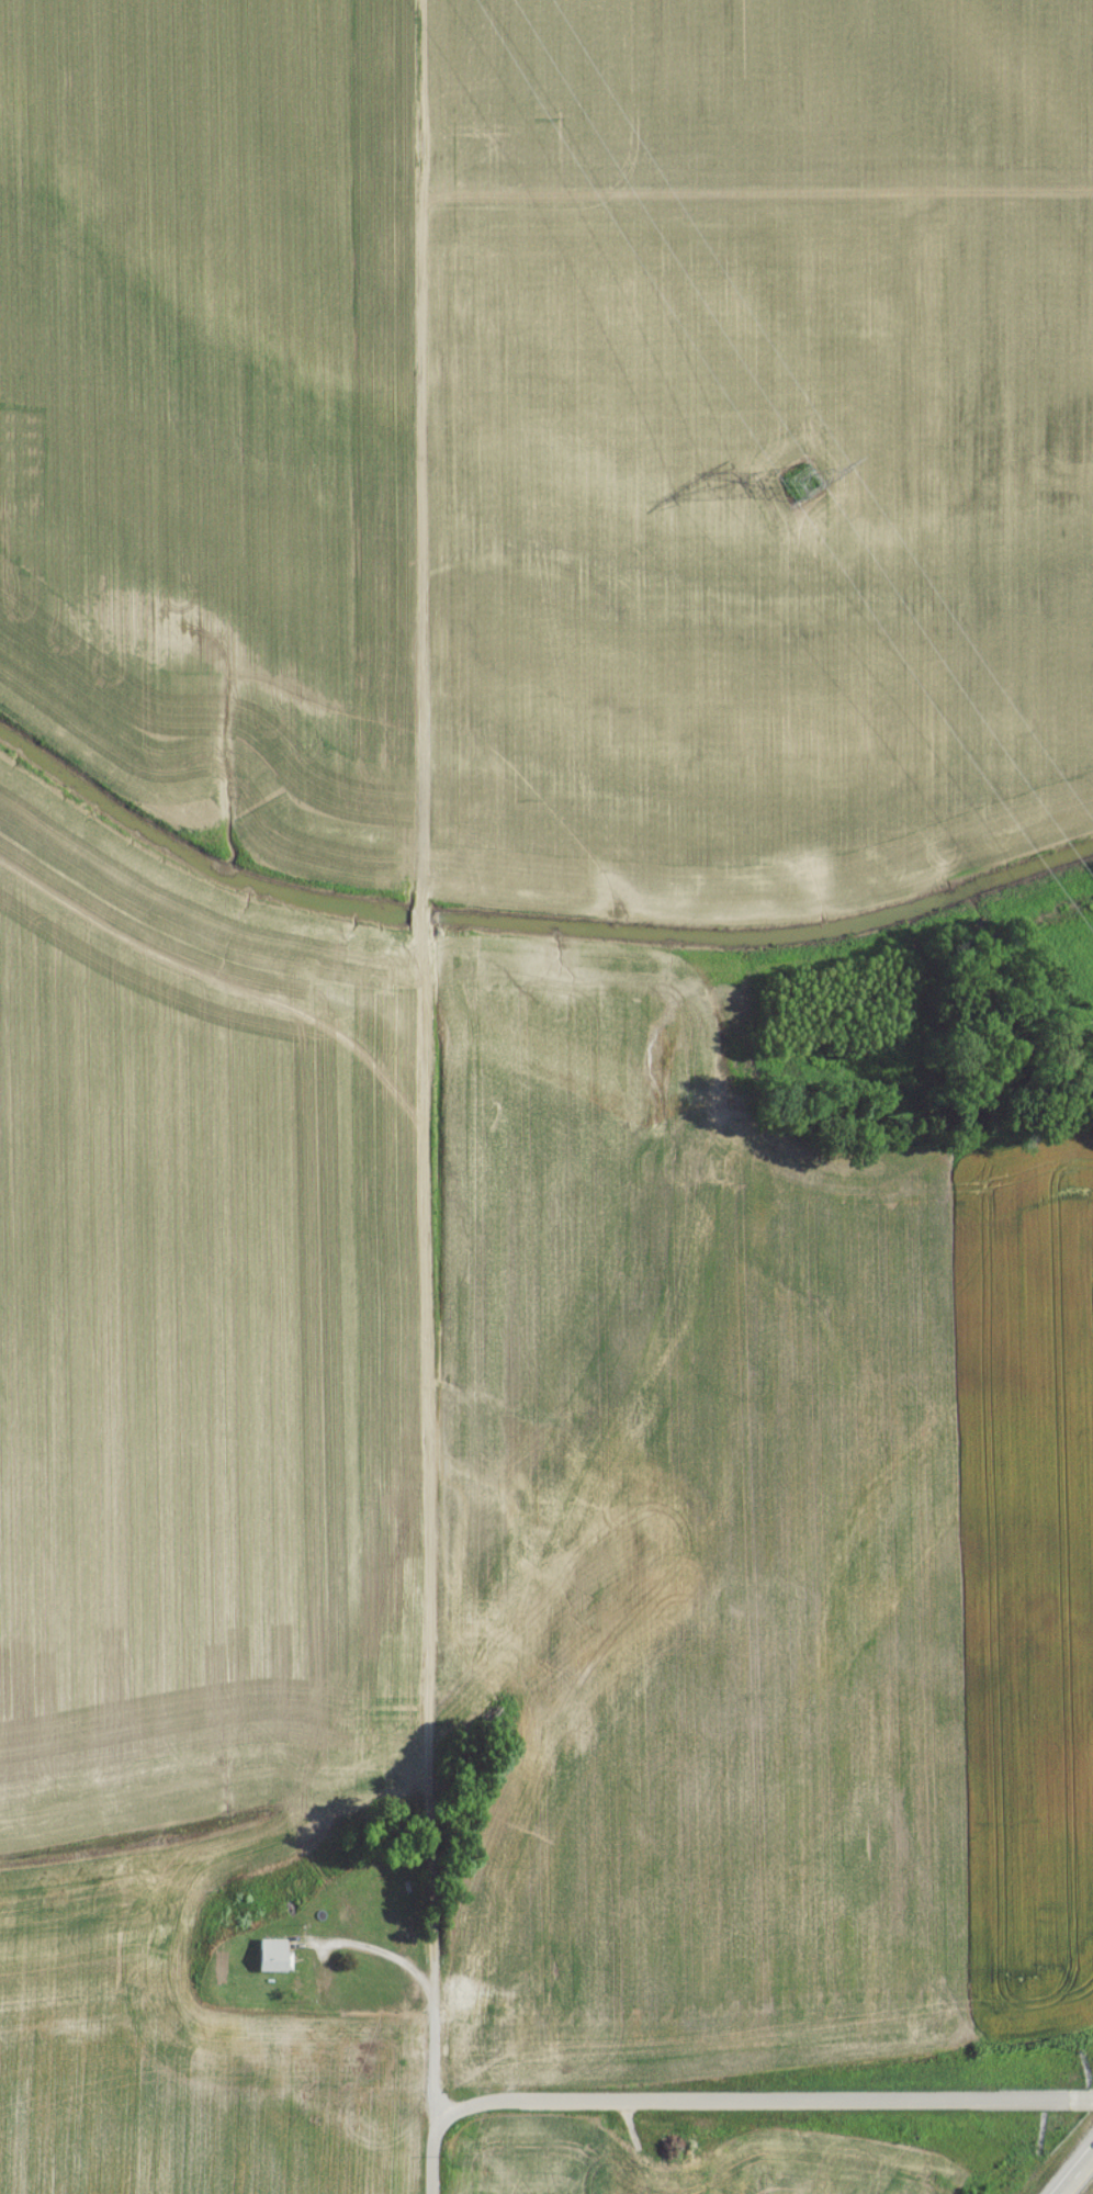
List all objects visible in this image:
road: (755, 194)
power tower: (808, 493)
road: (422, 989)
road: (371, 1955)
building: (272, 1960)
road: (430, 2085)
road: (743, 2104)
road: (1074, 2105)
road: (1080, 2178)

